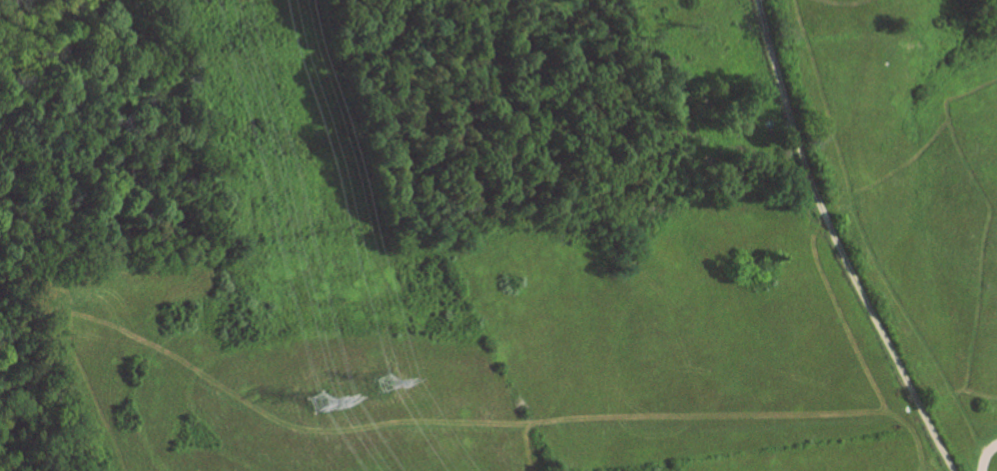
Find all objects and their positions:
road: (836, 242)
power tower: (380, 385)
power tower: (318, 403)

